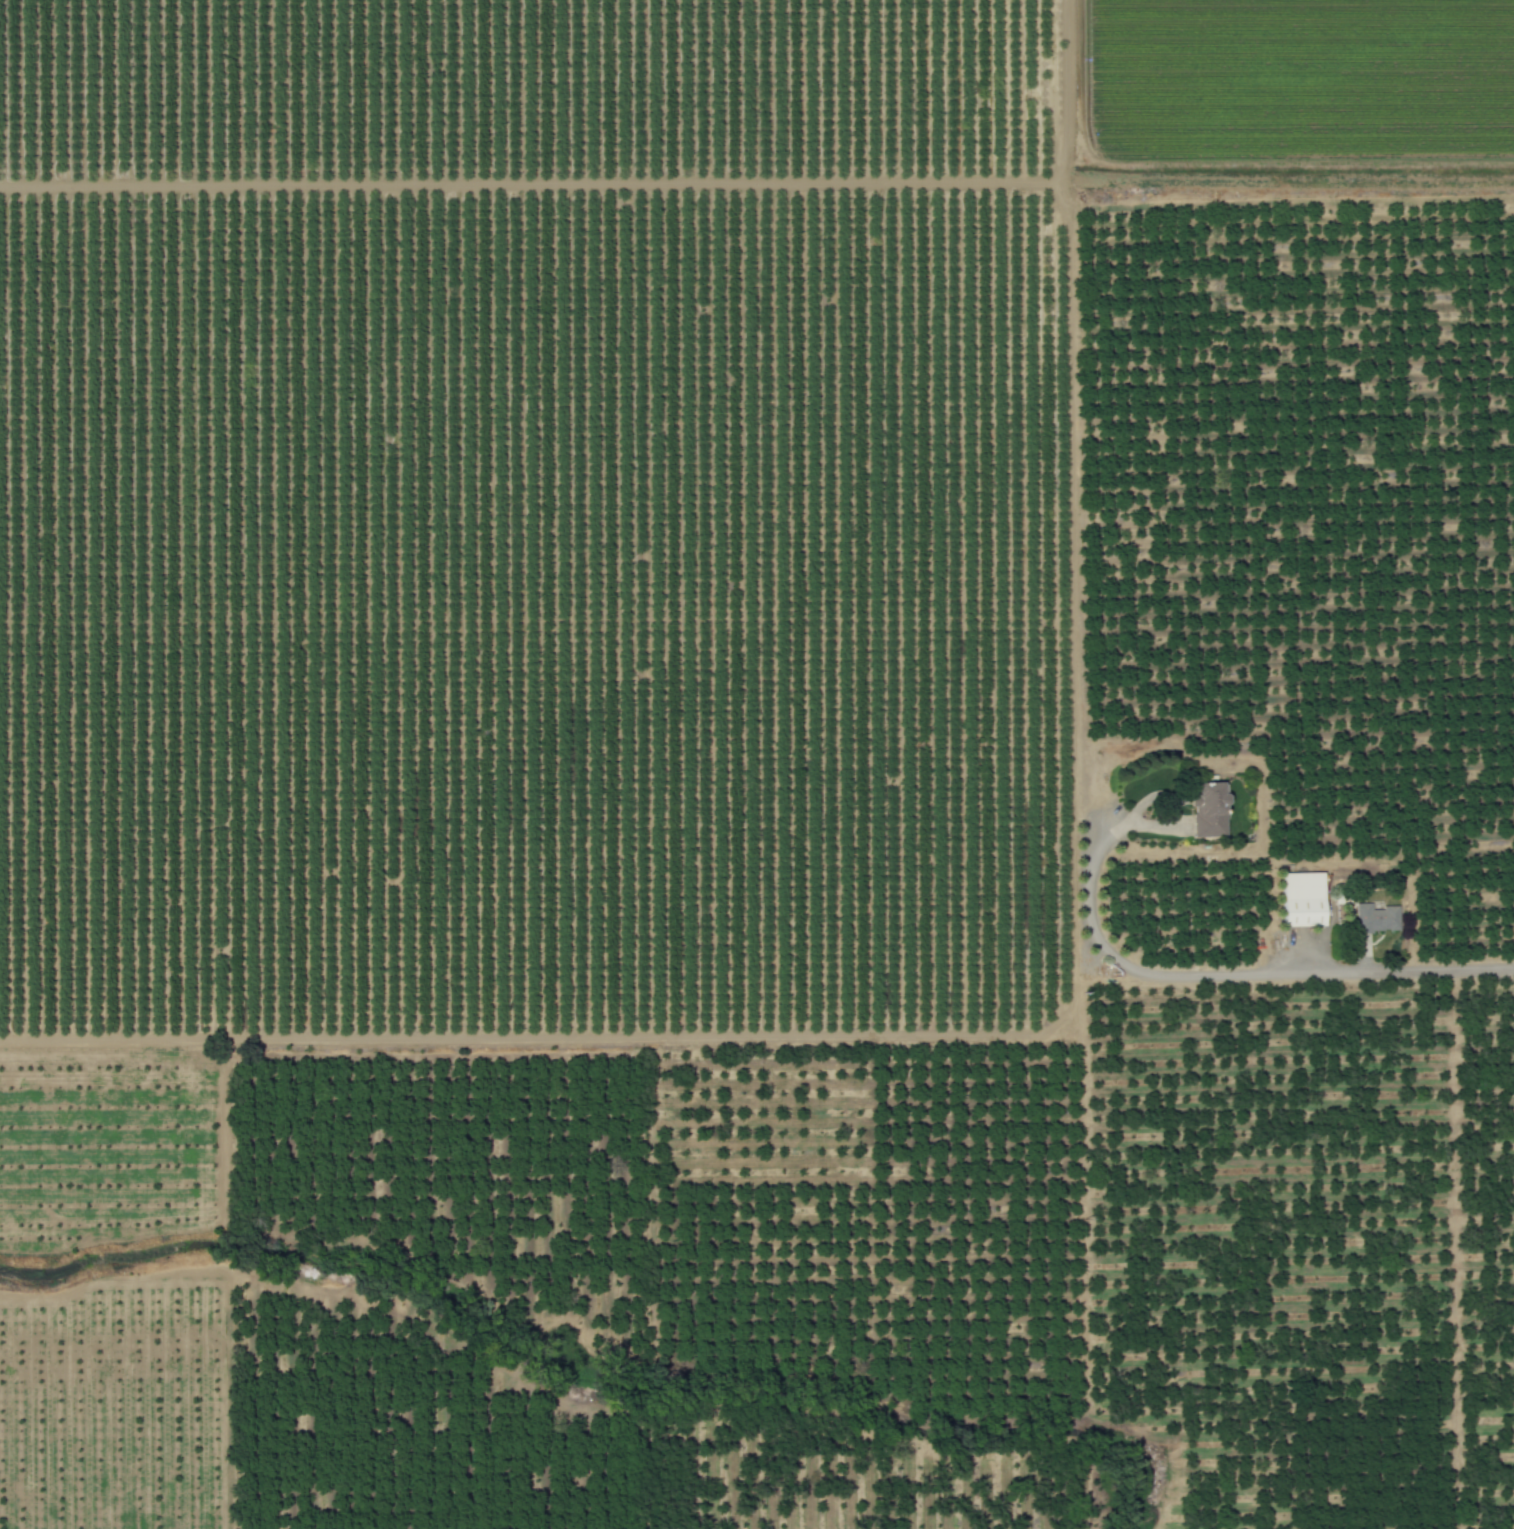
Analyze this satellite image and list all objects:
road: (1071, 432)
road: (1261, 781)
road: (1173, 805)
building: (1209, 811)
building: (1304, 900)
building: (1378, 918)
road: (1231, 975)

